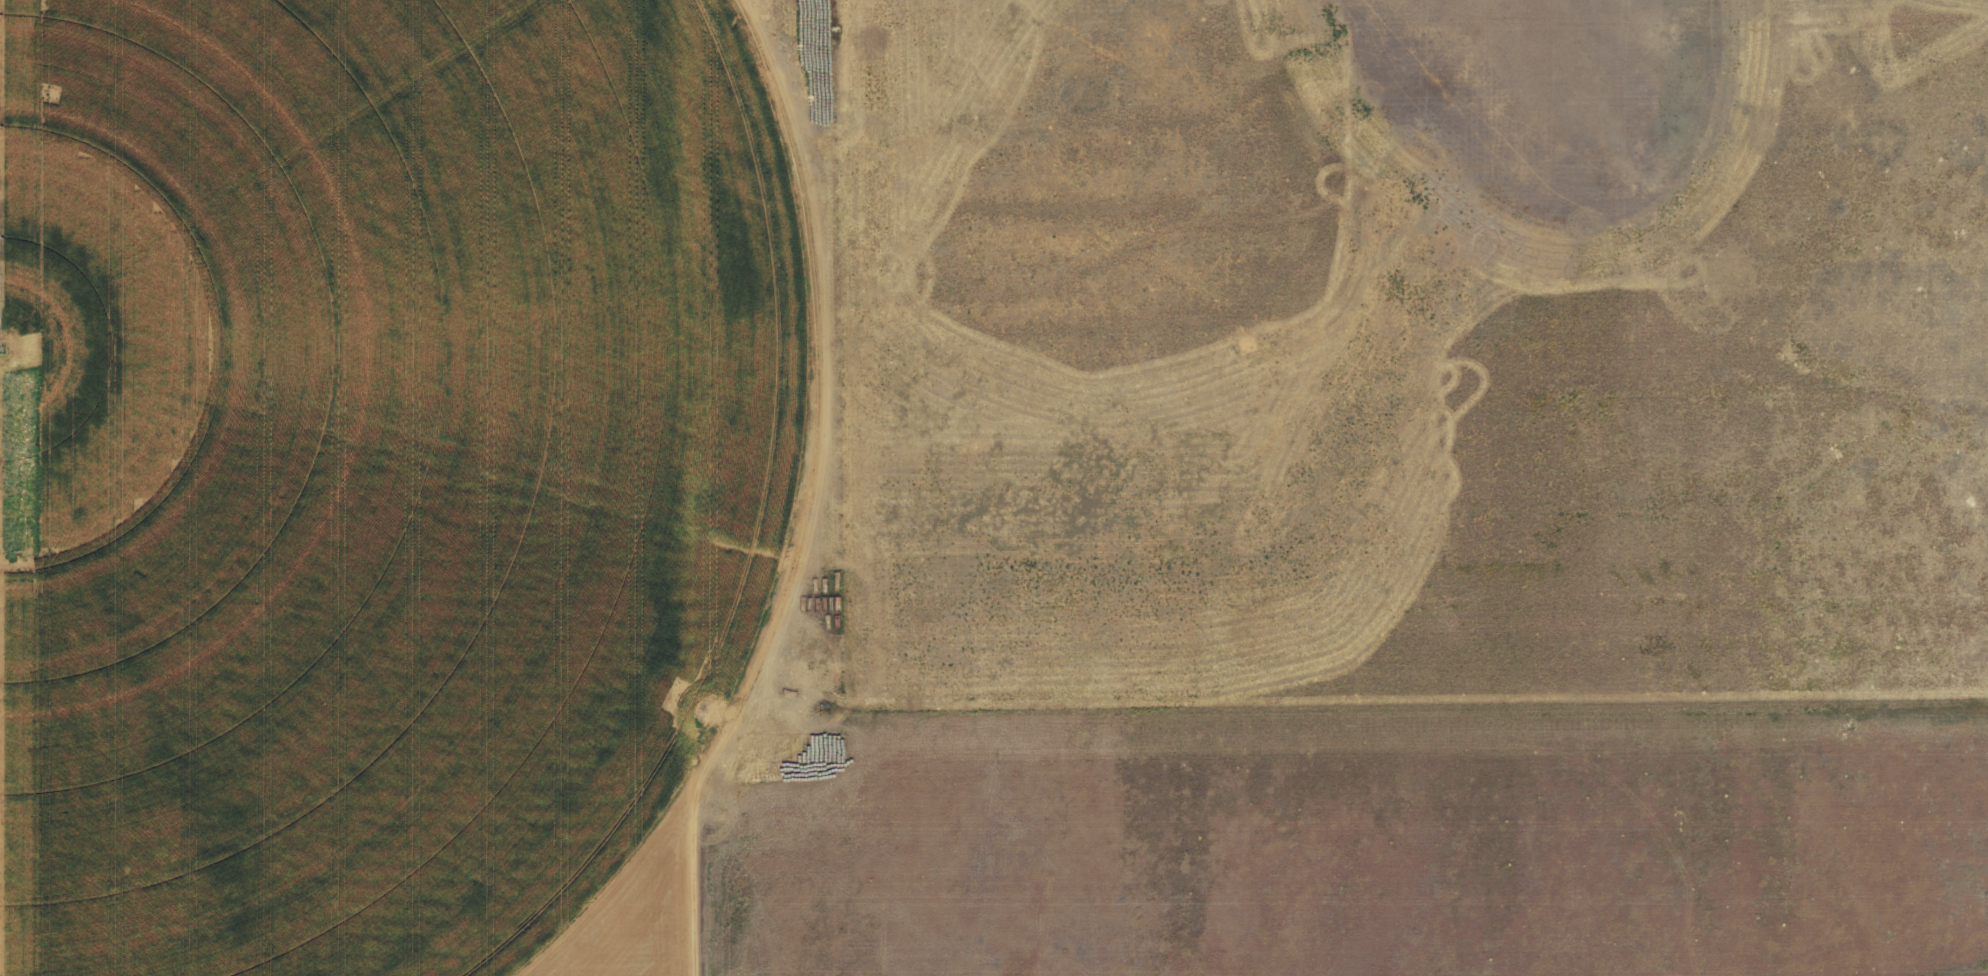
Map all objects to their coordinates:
road: (678, 488)

